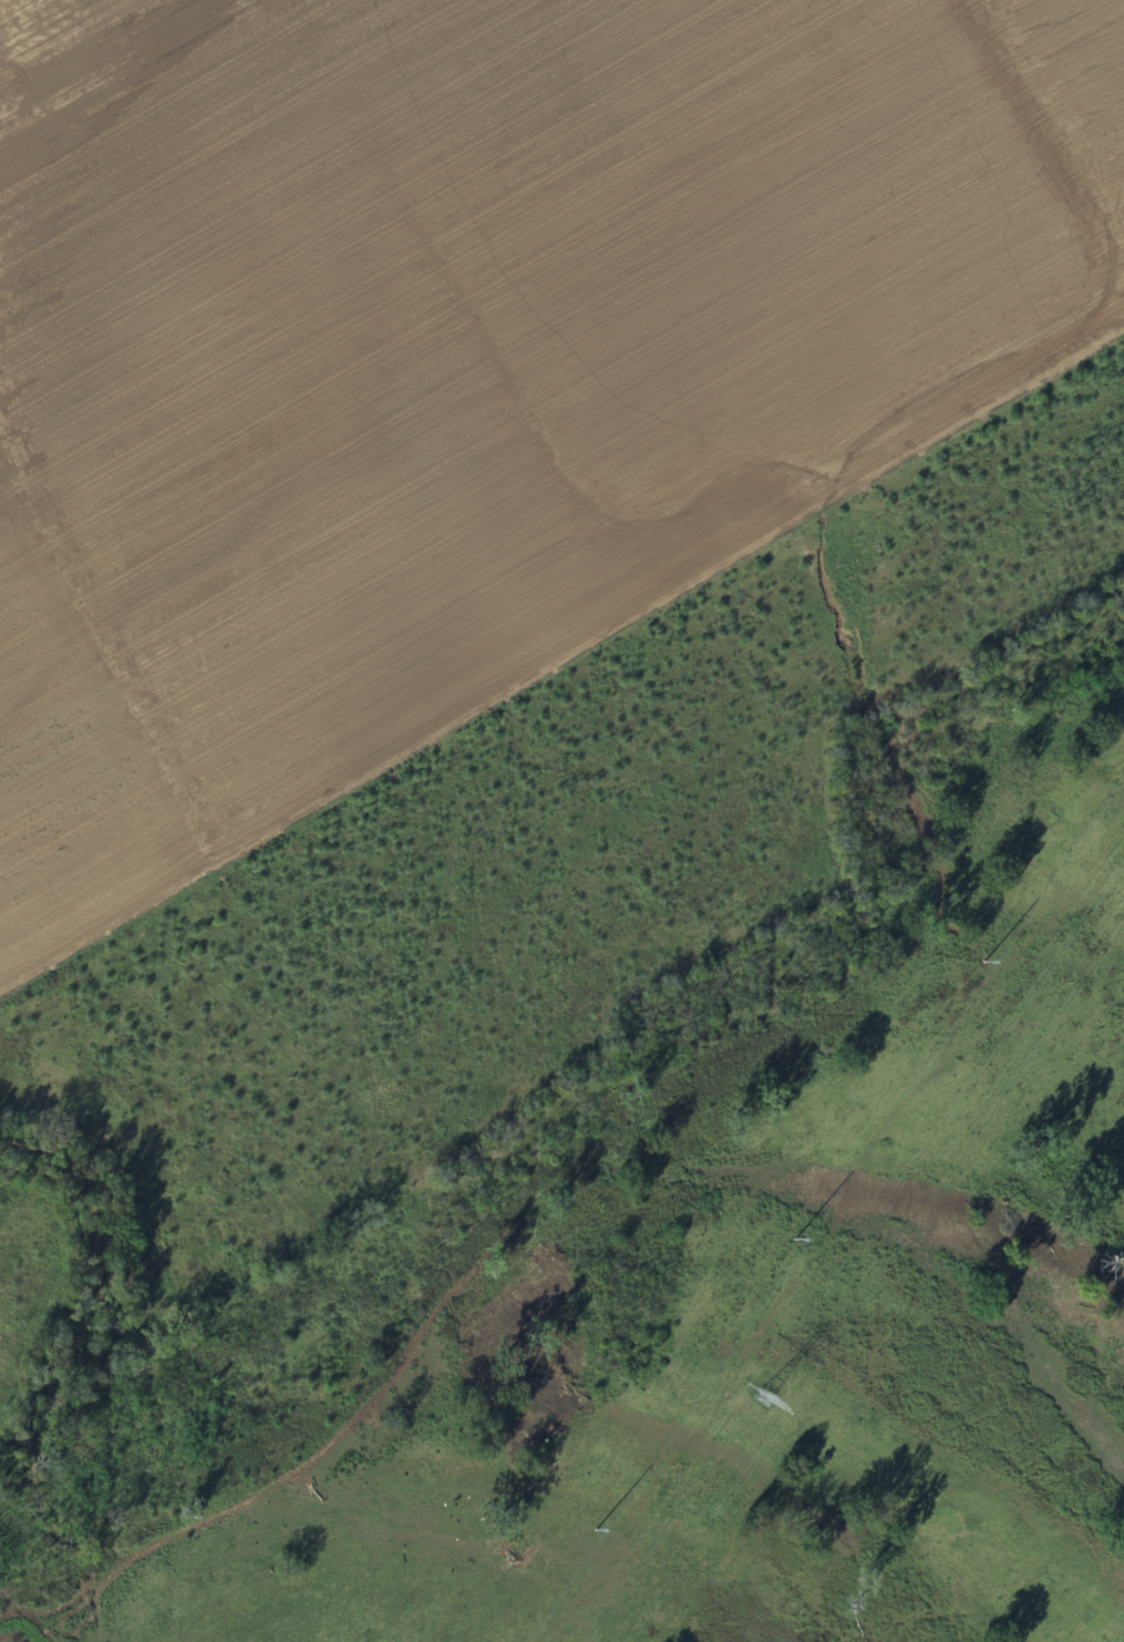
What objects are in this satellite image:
power tower: (989, 958)
power tower: (798, 1239)
power tower: (765, 1398)
power tower: (598, 1531)

